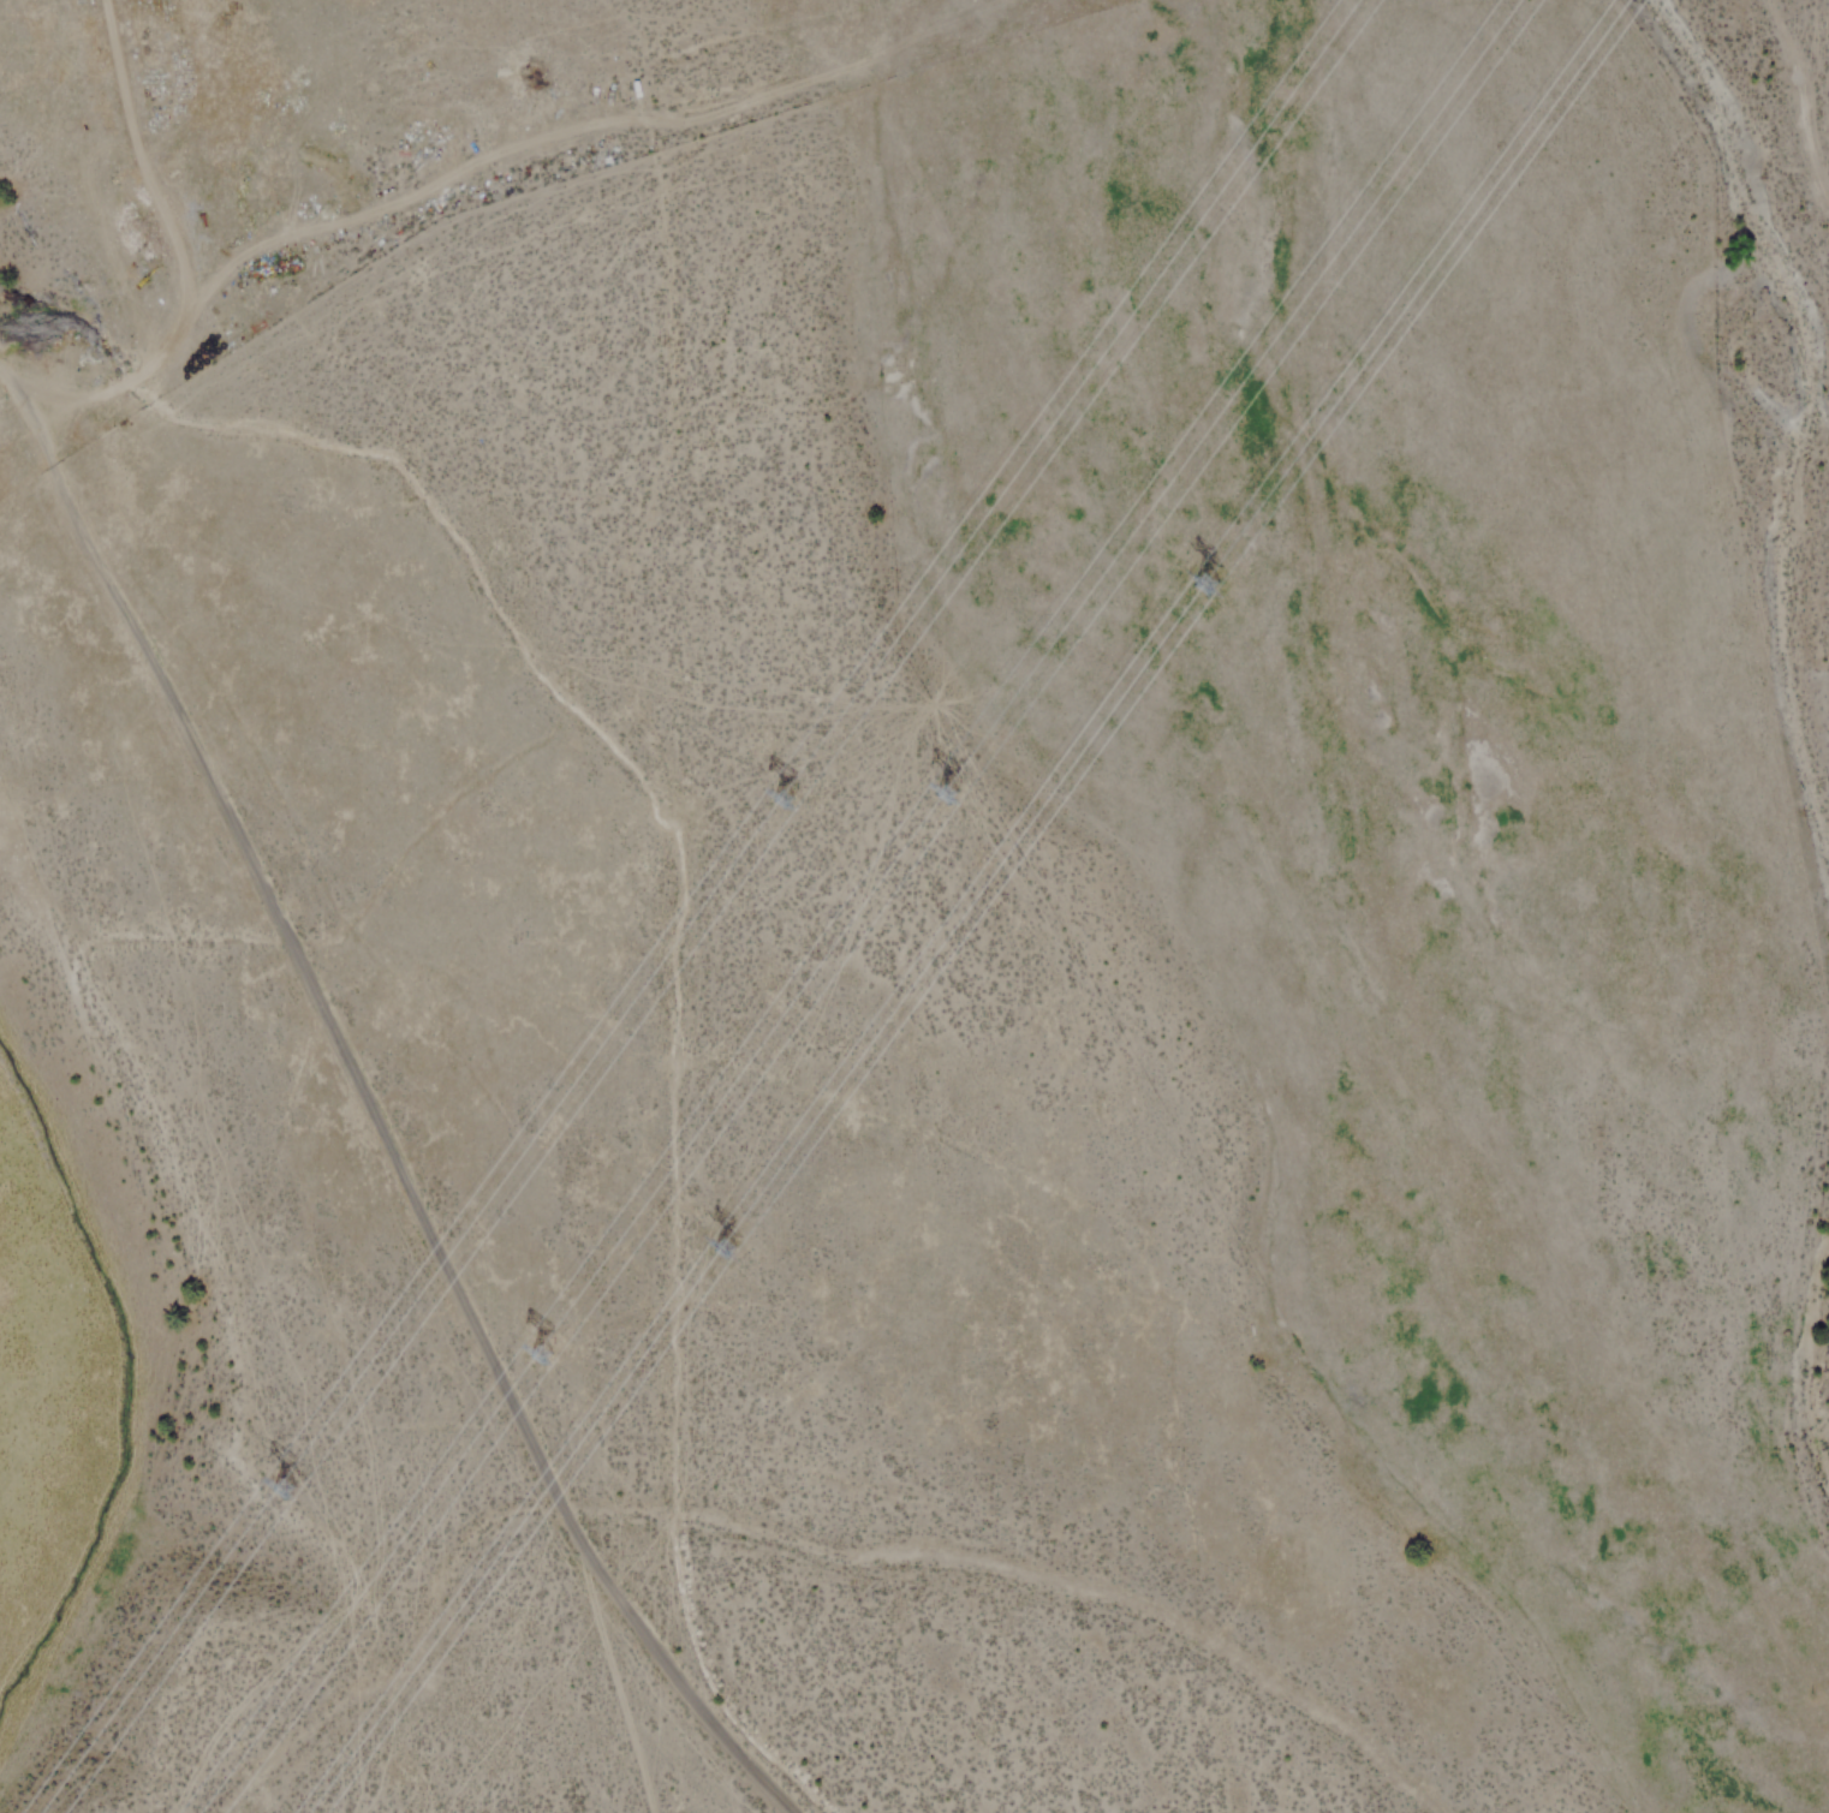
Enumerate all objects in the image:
road: (416, 175)
power tower: (1208, 586)
power tower: (943, 776)
power tower: (790, 786)
power tower: (728, 1257)
power tower: (534, 1349)
power tower: (285, 1467)

